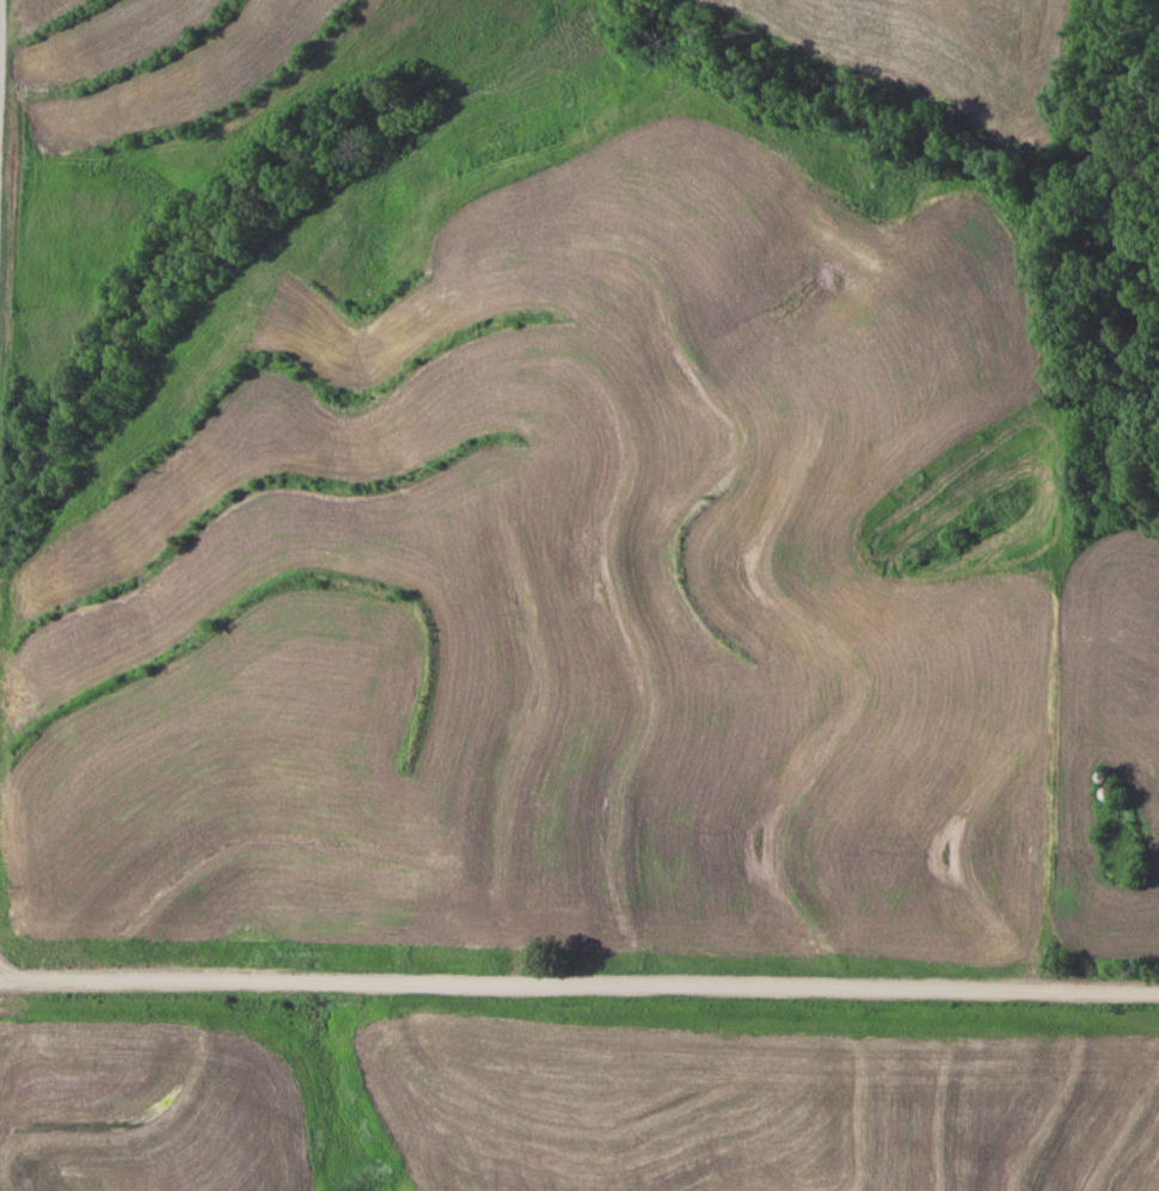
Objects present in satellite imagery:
road: (579, 981)

